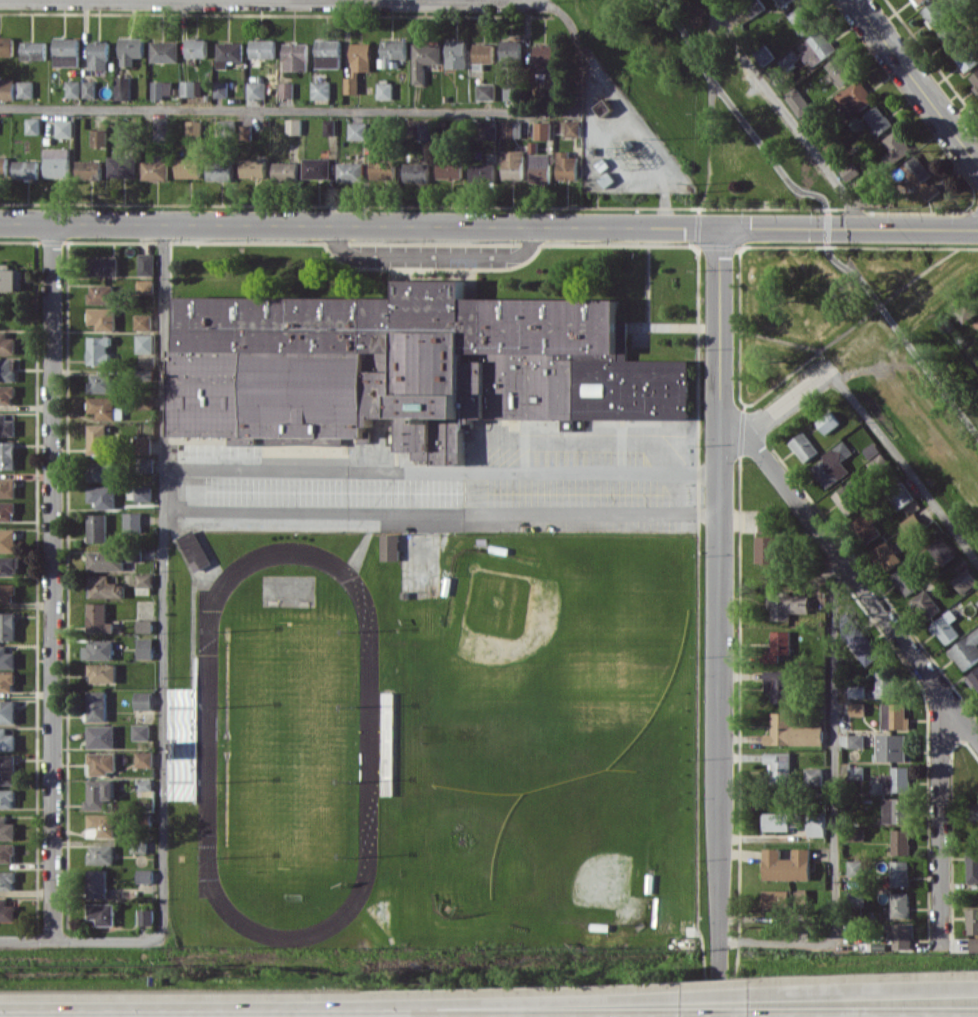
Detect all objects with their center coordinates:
road: (446, 1)
road: (546, 1)
building: (920, 1)
building: (783, 2)
building: (934, 14)
building: (801, 19)
building: (952, 34)
building: (6, 46)
building: (197, 47)
building: (816, 47)
building: (263, 48)
building: (33, 50)
building: (131, 50)
building: (66, 51)
building: (165, 51)
building: (510, 51)
building: (392, 52)
building: (229, 53)
building: (328, 53)
building: (456, 54)
building: (482, 54)
building: (99, 55)
building: (764, 55)
building: (295, 56)
building: (544, 58)
building: (967, 58)
building: (424, 59)
building: (789, 59)
building: (358, 65)
building: (840, 68)
building: (975, 77)
road: (915, 81)
building: (123, 87)
building: (7, 88)
building: (162, 88)
building: (191, 88)
building: (25, 89)
building: (74, 89)
building: (89, 89)
building: (221, 89)
building: (256, 89)
building: (286, 89)
building: (321, 89)
building: (385, 90)
building: (511, 90)
building: (486, 91)
road: (722, 91)
building: (855, 94)
building: (797, 101)
building: (604, 107)
road: (349, 108)
road: (787, 117)
building: (878, 119)
building: (33, 125)
building: (294, 126)
building: (330, 126)
building: (65, 128)
building: (160, 128)
building: (194, 128)
building: (573, 128)
building: (511, 129)
building: (358, 130)
building: (487, 130)
building: (543, 130)
building: (424, 131)
building: (126, 134)
building: (99, 137)
road: (647, 138)
building: (895, 147)
building: (58, 162)
building: (514, 164)
building: (4, 165)
building: (123, 166)
building: (567, 166)
building: (188, 167)
building: (254, 167)
building: (317, 168)
building: (541, 168)
building: (26, 169)
building: (90, 169)
building: (383, 169)
building: (450, 169)
building: (156, 170)
building: (286, 171)
building: (351, 171)
building: (220, 172)
building: (417, 172)
building: (483, 172)
building: (849, 172)
building: (920, 177)
road: (489, 225)
road: (827, 232)
road: (433, 255)
building: (147, 264)
building: (105, 265)
building: (12, 279)
building: (146, 286)
building: (102, 294)
building: (103, 318)
building: (144, 321)
building: (7, 343)
building: (145, 343)
building: (99, 349)
road: (922, 361)
building: (408, 366)
building: (8, 369)
building: (102, 382)
building: (7, 394)
road: (789, 399)
building: (106, 408)
building: (827, 422)
building: (7, 426)
building: (98, 438)
building: (144, 445)
building: (803, 446)
building: (8, 454)
building: (147, 464)
building: (832, 465)
road: (904, 465)
building: (102, 471)
road: (442, 472)
building: (8, 487)
building: (143, 493)
building: (900, 495)
building: (103, 496)
building: (849, 497)
building: (7, 511)
road: (442, 511)
building: (766, 519)
building: (133, 522)
building: (867, 525)
building: (98, 527)
building: (8, 540)
building: (391, 546)
building: (195, 549)
building: (767, 549)
building: (942, 550)
building: (885, 555)
building: (106, 560)
building: (9, 565)
road: (854, 574)
road: (165, 577)
building: (144, 580)
building: (905, 580)
building: (965, 580)
road: (53, 581)
building: (105, 587)
building: (7, 593)
building: (977, 603)
building: (925, 604)
building: (783, 605)
building: (99, 618)
road: (718, 622)
building: (145, 625)
building: (8, 626)
building: (945, 627)
building: (779, 644)
building: (861, 644)
building: (145, 647)
building: (99, 649)
building: (965, 650)
building: (7, 658)
park: (551, 670)
building: (103, 672)
building: (974, 678)
building: (7, 682)
building: (885, 684)
building: (778, 685)
building: (856, 691)
building: (144, 700)
building: (98, 705)
building: (856, 708)
building: (8, 711)
building: (894, 715)
building: (792, 731)
building: (142, 732)
building: (102, 736)
building: (7, 739)
building: (854, 740)
building: (185, 743)
track: (370, 744)
building: (894, 747)
building: (144, 759)
building: (103, 763)
building: (778, 765)
building: (8, 769)
building: (854, 771)
building: (896, 779)
building: (100, 793)
building: (7, 798)
road: (834, 801)
building: (895, 810)
building: (974, 810)
road: (939, 820)
building: (777, 821)
building: (102, 825)
building: (7, 829)
building: (899, 841)
park: (583, 846)
building: (7, 852)
building: (102, 854)
building: (786, 864)
building: (972, 865)
building: (853, 867)
building: (898, 873)
building: (146, 875)
building: (7, 880)
building: (98, 883)
building: (783, 896)
building: (855, 898)
building: (898, 904)
building: (7, 910)
building: (103, 913)
building: (146, 916)
building: (971, 921)
building: (899, 935)
road: (109, 939)
road: (26, 940)
building: (973, 943)
road: (866, 991)
road: (721, 994)
road: (520, 1000)
building: (377, 1016)
building: (723, 1016)

